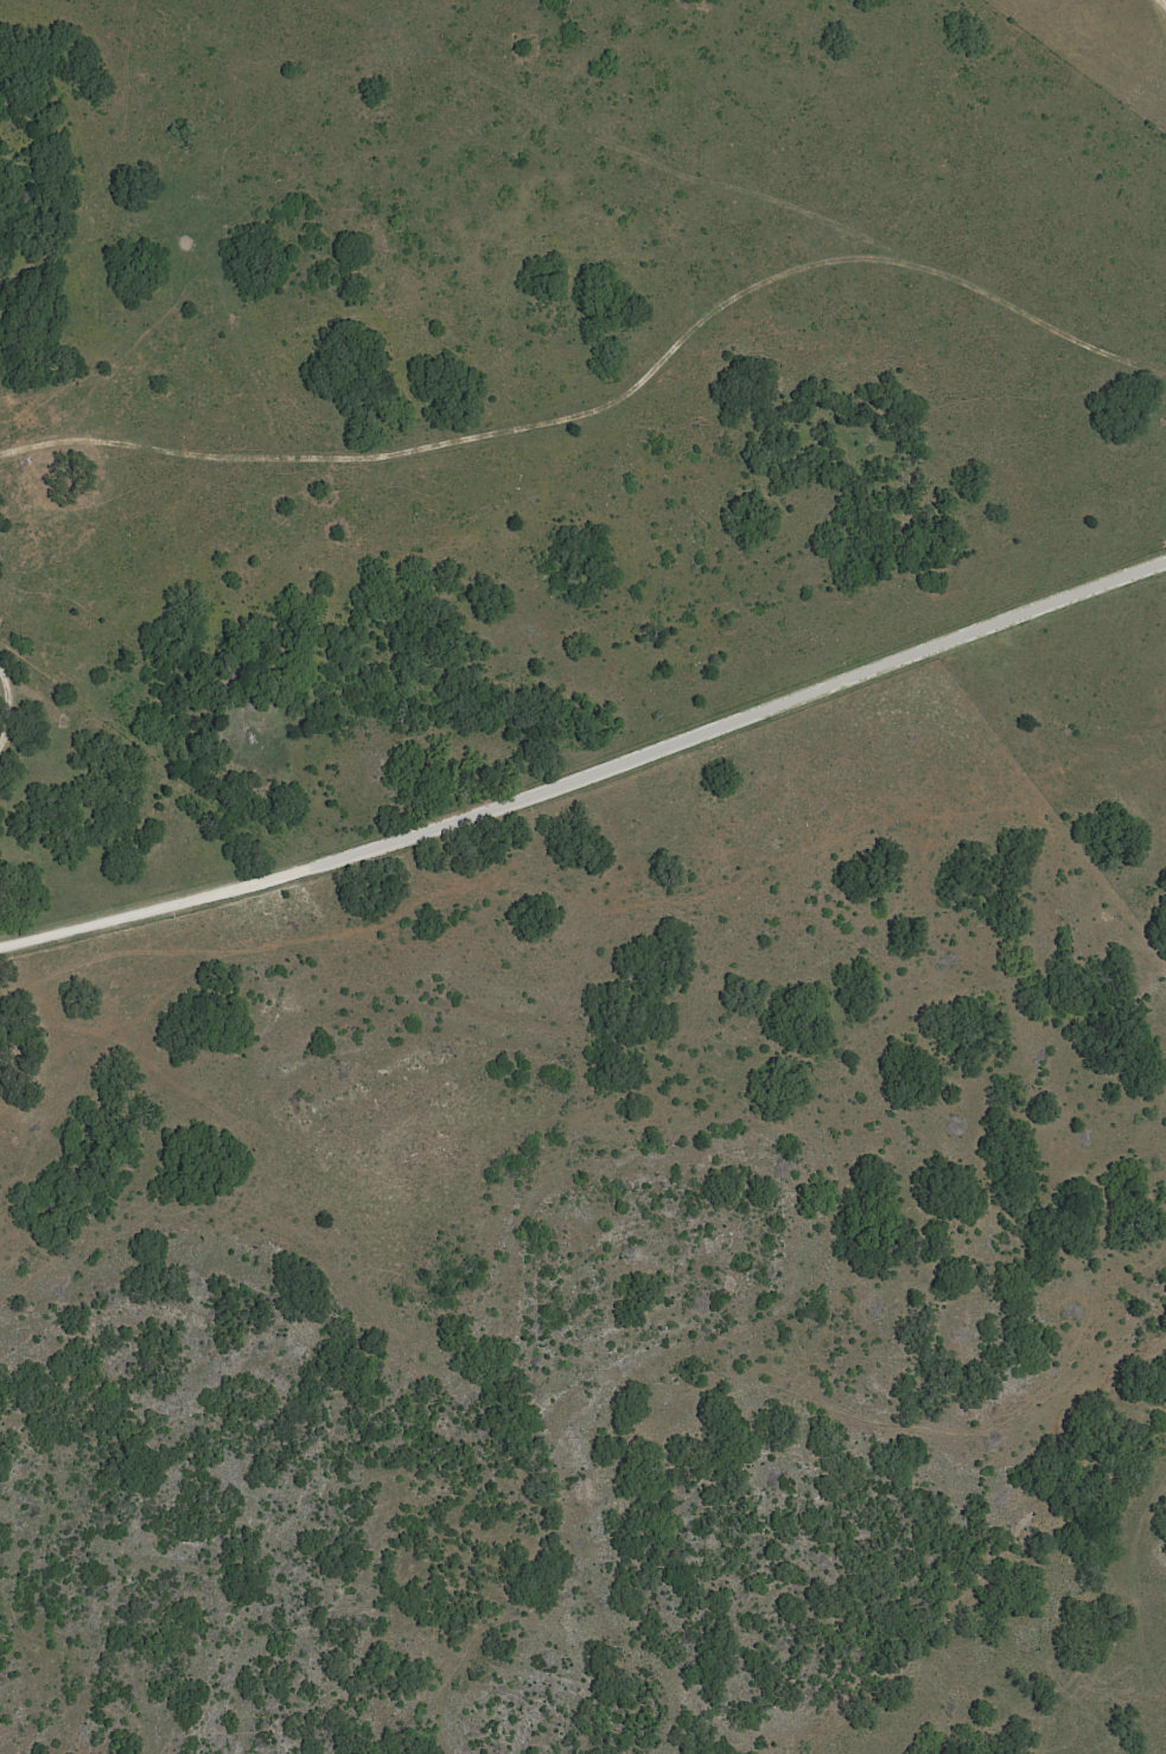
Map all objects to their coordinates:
road: (1162, 5)
road: (958, 627)
road: (17, 710)
road: (380, 841)
road: (52, 1020)

